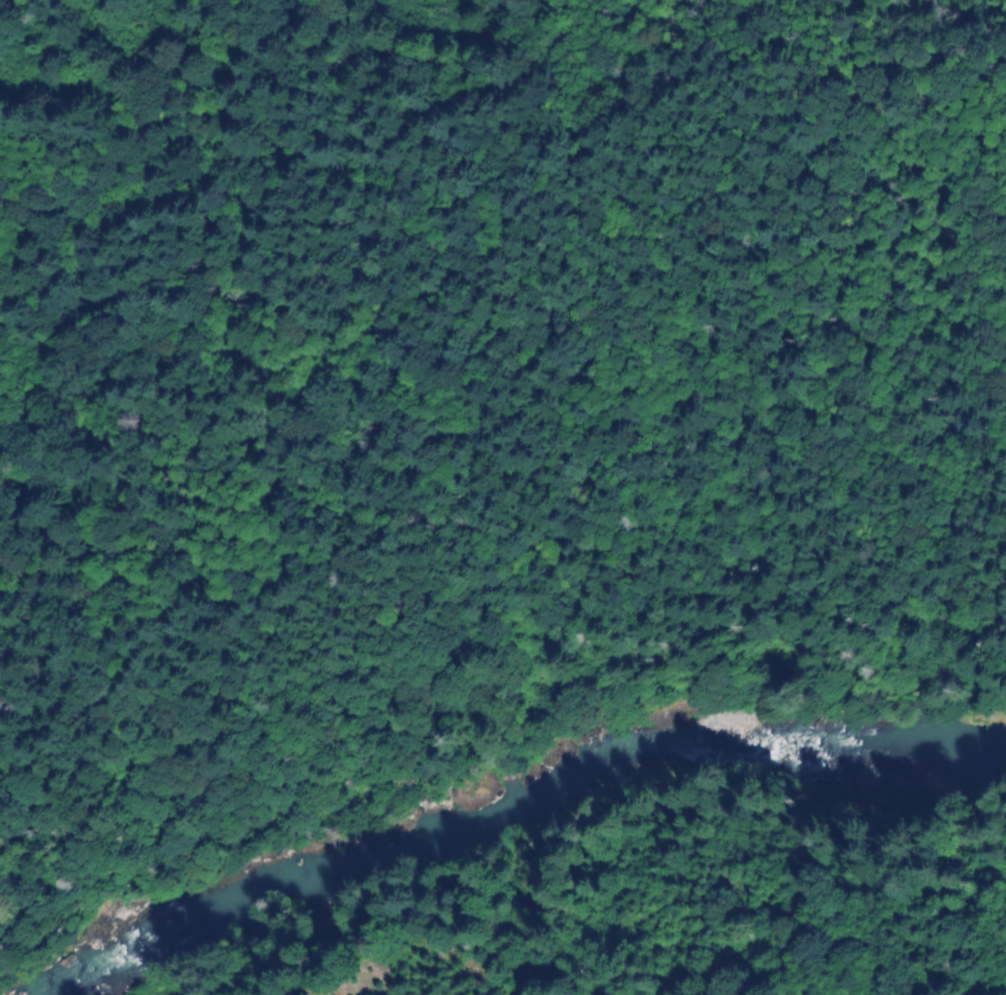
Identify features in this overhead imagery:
river: (571, 824)

